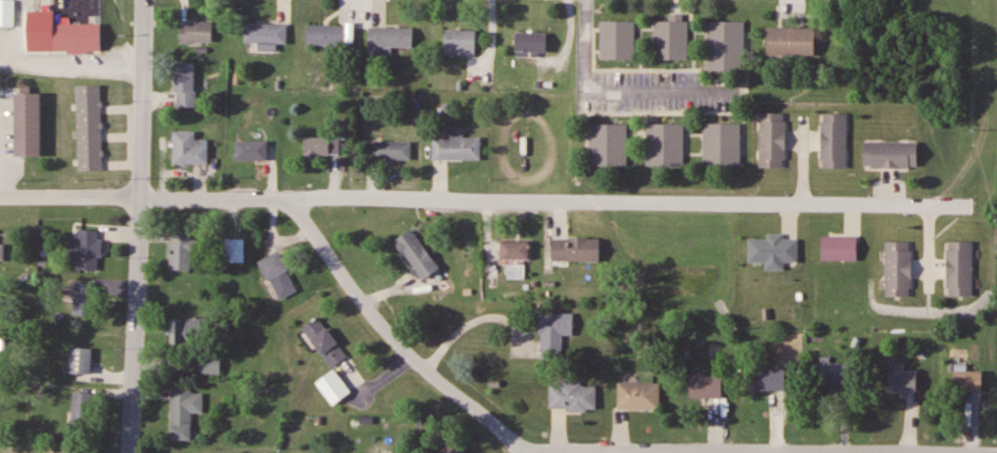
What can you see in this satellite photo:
building: (7, 13)
building: (197, 23)
building: (269, 26)
building: (326, 29)
building: (393, 32)
building: (624, 32)
building: (677, 32)
building: (467, 34)
building: (801, 34)
building: (533, 37)
building: (77, 38)
building: (732, 40)
building: (193, 78)
road: (609, 92)
building: (28, 125)
building: (90, 128)
building: (779, 133)
building: (842, 134)
building: (319, 135)
building: (729, 137)
building: (672, 138)
building: (616, 139)
building: (192, 140)
building: (462, 141)
building: (255, 143)
building: (396, 144)
building: (317, 148)
building: (901, 150)
road: (485, 193)
road: (144, 226)
building: (849, 242)
building: (523, 243)
building: (780, 243)
building: (580, 244)
building: (3, 247)
building: (423, 248)
building: (85, 251)
building: (233, 251)
building: (514, 251)
building: (182, 252)
building: (908, 262)
building: (972, 262)
building: (520, 265)
building: (286, 268)
building: (279, 276)
building: (86, 300)
building: (190, 332)
building: (563, 332)
road: (389, 338)
building: (325, 342)
building: (81, 361)
building: (210, 366)
building: (841, 368)
building: (904, 371)
building: (779, 375)
building: (712, 381)
building: (969, 381)
building: (333, 387)
building: (643, 389)
building: (578, 390)
building: (82, 409)
building: (185, 413)
building: (451, 448)
road: (728, 451)

